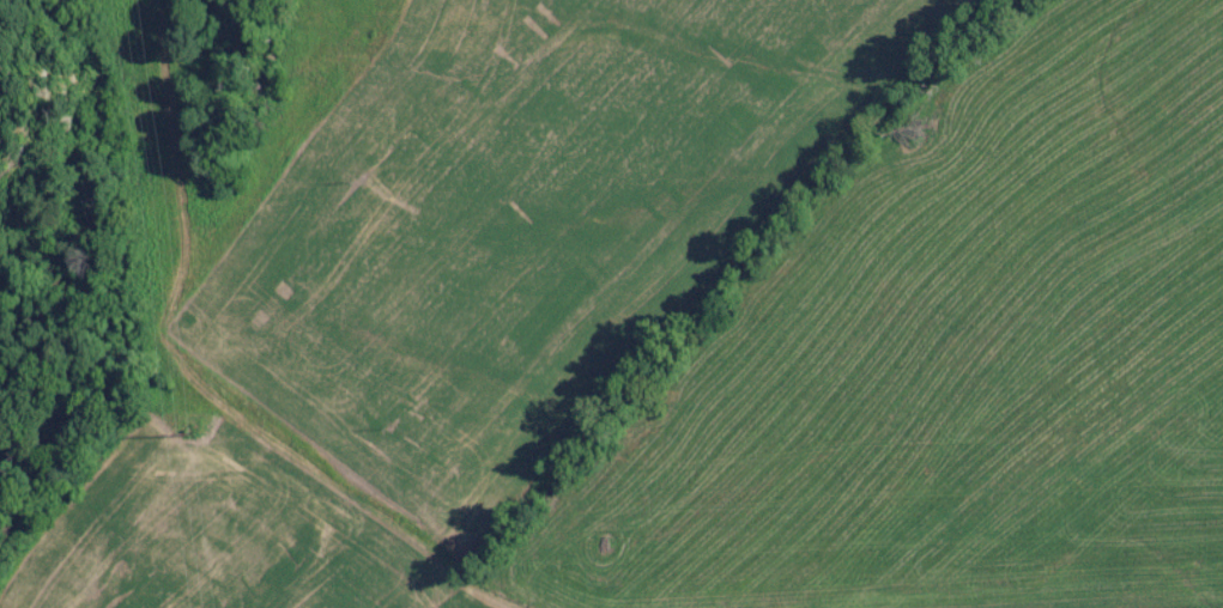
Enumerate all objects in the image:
power tower: (195, 428)

